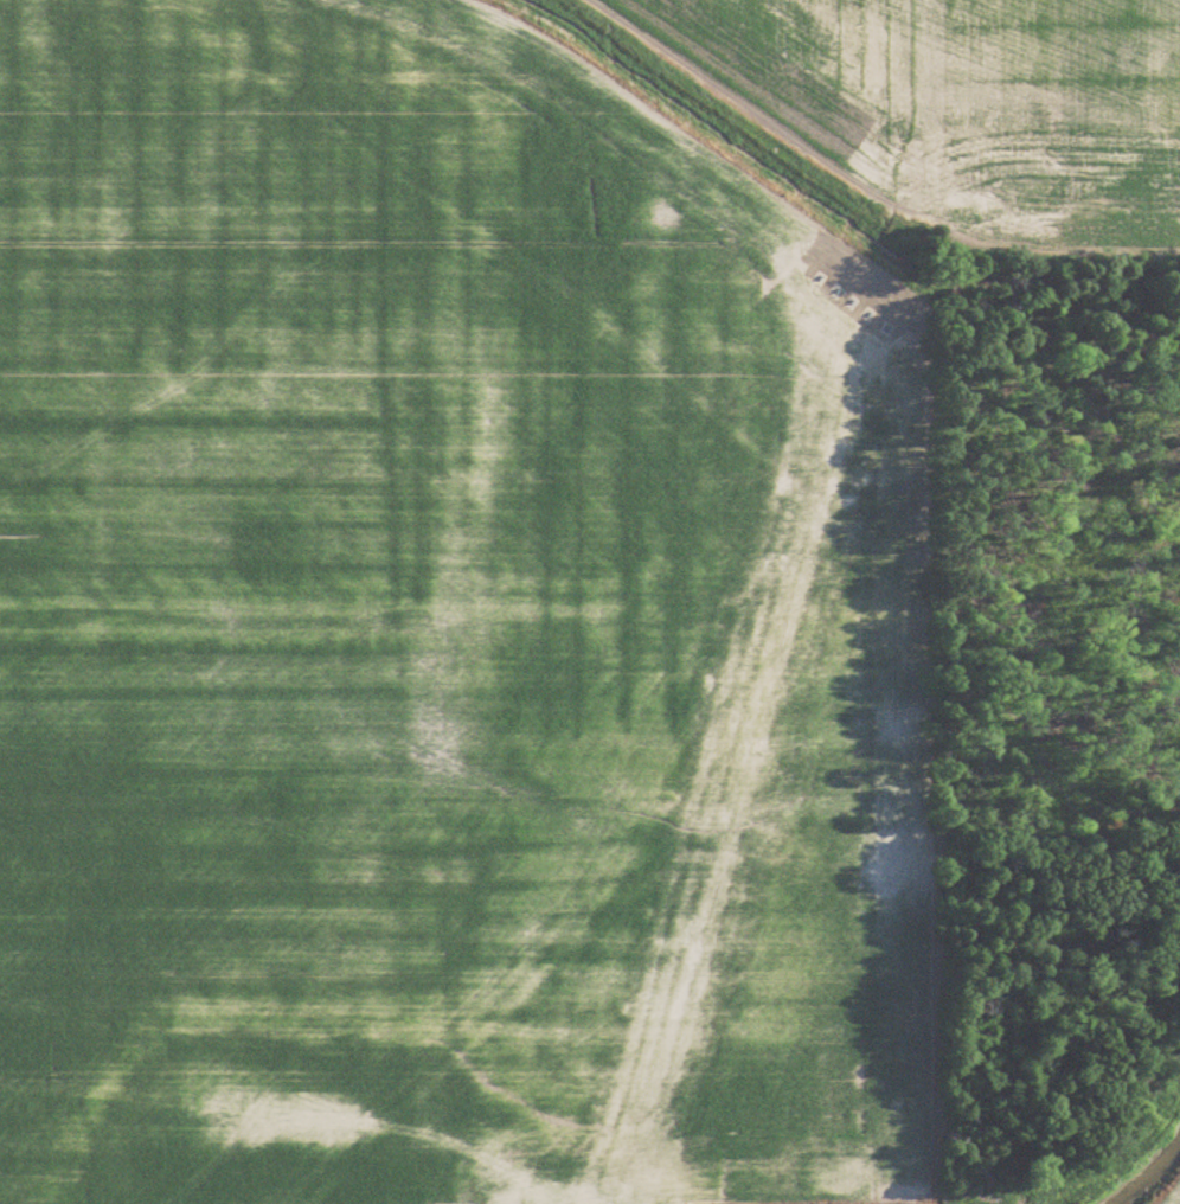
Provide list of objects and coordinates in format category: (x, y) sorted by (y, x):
river: (1148, 1179)

